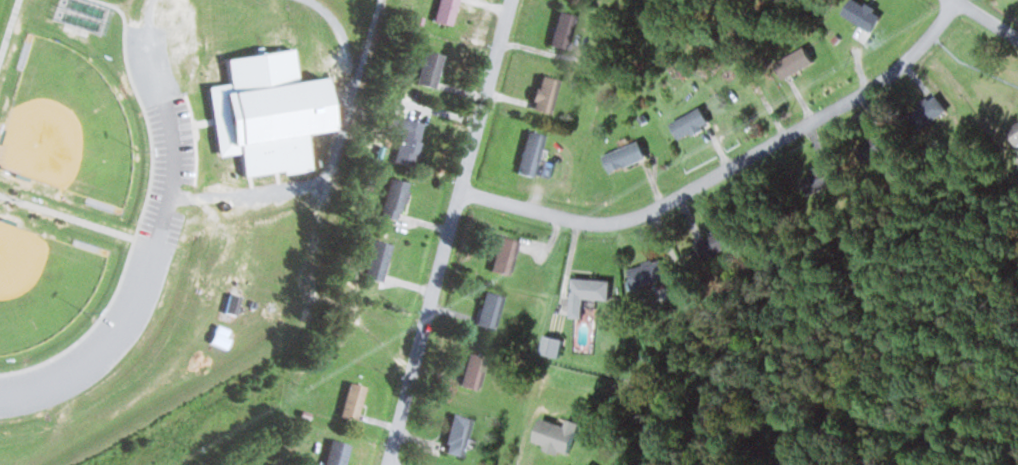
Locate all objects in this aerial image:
road: (149, 11)
building: (448, 11)
building: (865, 15)
road: (988, 15)
road: (9, 29)
building: (566, 30)
road: (366, 47)
building: (797, 63)
building: (433, 69)
building: (747, 91)
building: (548, 94)
building: (931, 111)
building: (265, 112)
building: (694, 123)
park: (68, 125)
building: (1015, 131)
building: (411, 142)
building: (879, 145)
building: (534, 153)
building: (629, 156)
road: (334, 158)
road: (730, 165)
building: (397, 199)
park: (165, 200)
road: (143, 211)
road: (67, 216)
parking lot: (163, 220)
road: (449, 232)
building: (720, 242)
road: (156, 247)
building: (507, 255)
building: (380, 262)
building: (652, 273)
park: (41, 285)
building: (591, 293)
building: (236, 302)
building: (493, 310)
building: (557, 347)
building: (476, 371)
building: (355, 401)
building: (460, 435)
building: (558, 435)
building: (340, 453)

